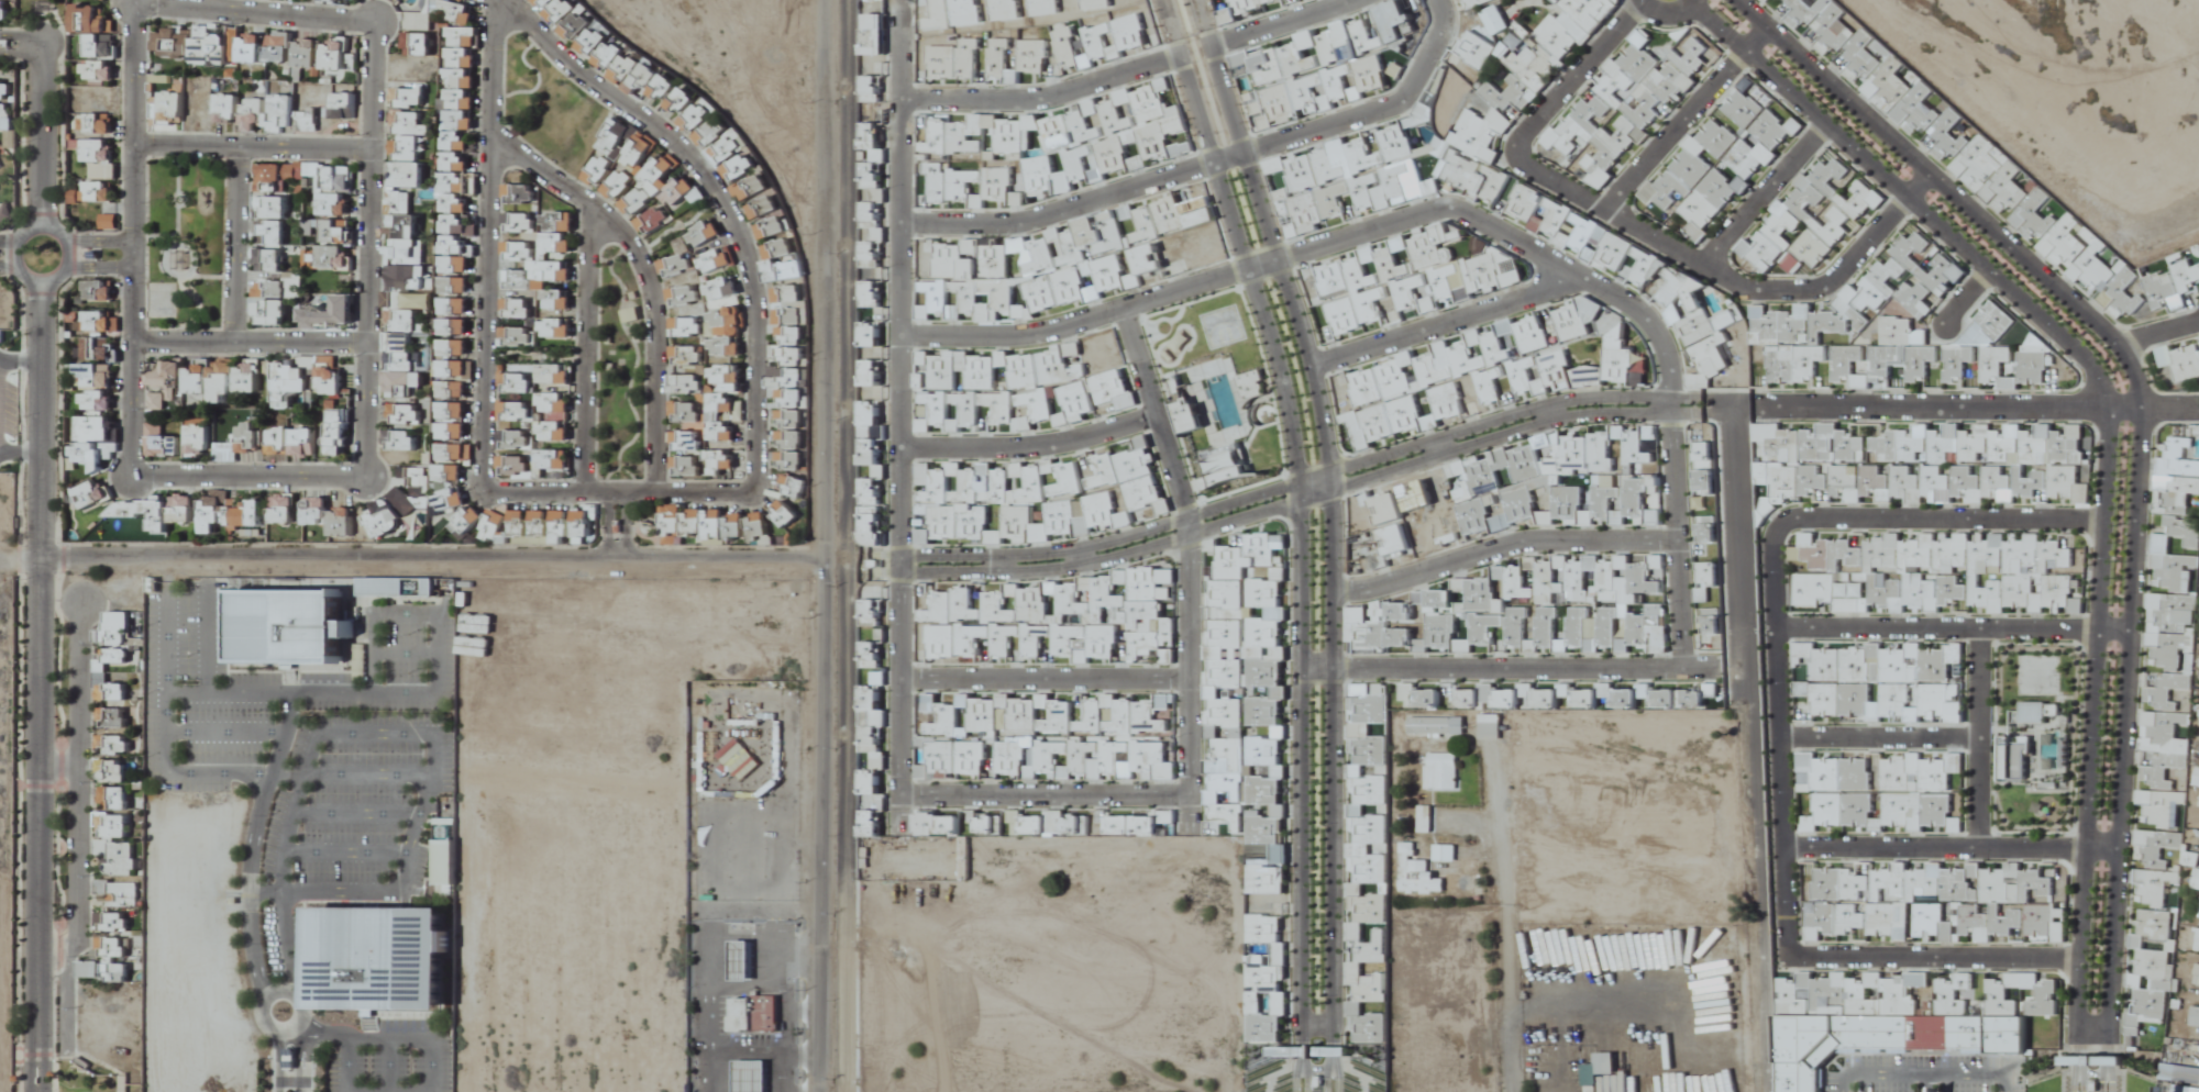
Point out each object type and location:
park: (187, 238)
park: (2038, 736)
gas station: (750, 1073)

